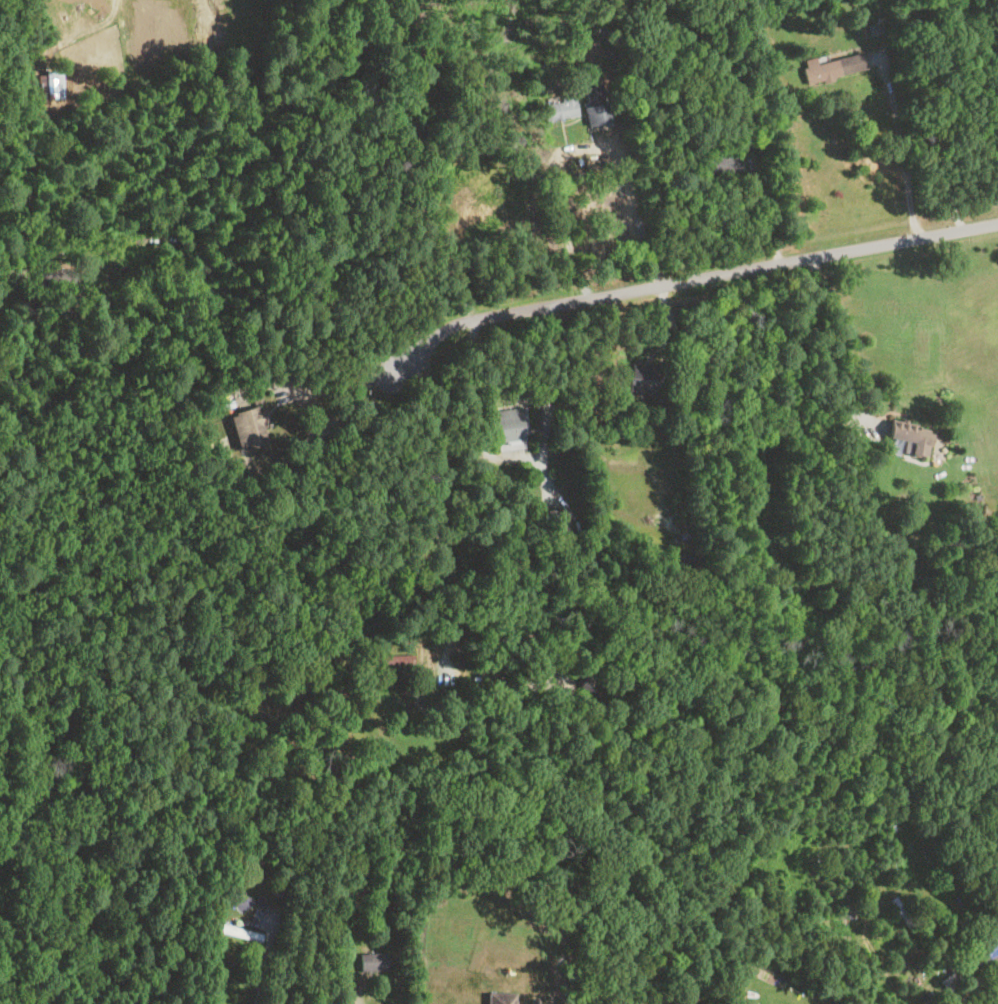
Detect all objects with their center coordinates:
building: (831, 67)
building: (48, 85)
building: (595, 103)
building: (558, 111)
road: (946, 112)
road: (901, 140)
building: (721, 164)
road: (638, 216)
road: (682, 281)
road: (818, 347)
building: (641, 379)
road: (333, 403)
building: (248, 427)
building: (507, 428)
building: (909, 437)
building: (390, 659)
building: (239, 932)
building: (987, 942)
building: (371, 961)
road: (261, 978)
road: (358, 998)
building: (498, 998)

